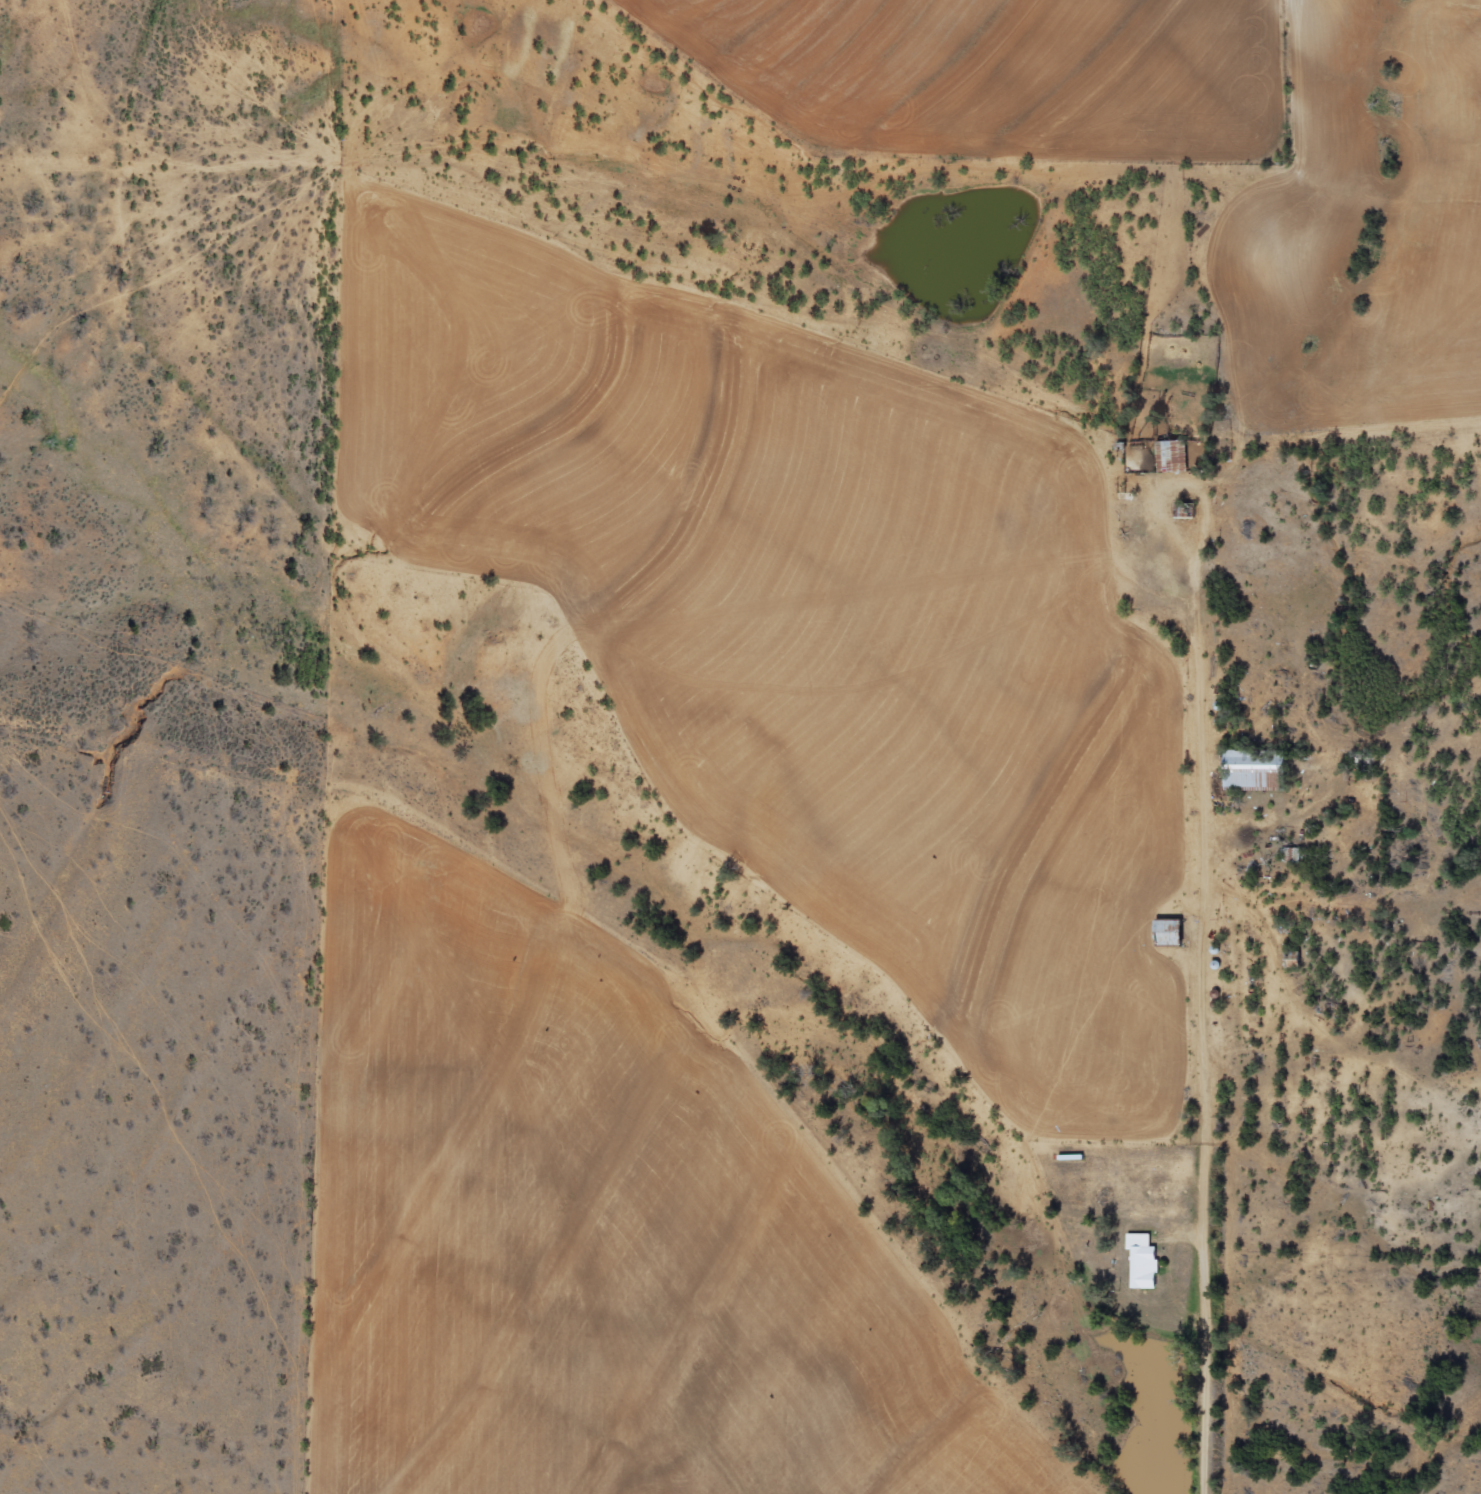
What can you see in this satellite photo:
building: (1175, 458)
building: (1138, 459)
road: (1127, 575)
road: (1200, 739)
building: (1254, 771)
building: (1171, 933)
building: (1145, 1261)

